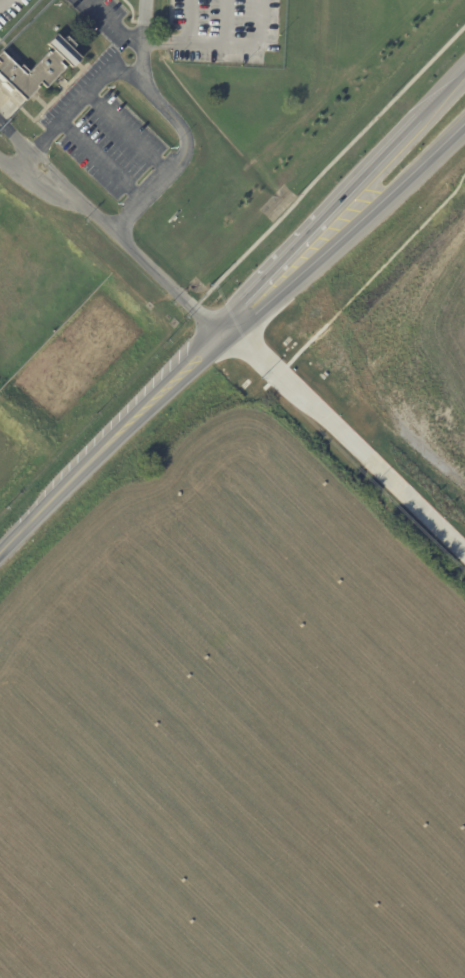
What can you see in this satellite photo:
road: (190, 20)
road: (114, 23)
road: (223, 42)
building: (39, 68)
road: (83, 96)
road: (443, 96)
road: (177, 123)
road: (130, 131)
road: (103, 159)
road: (386, 161)
road: (414, 170)
road: (56, 175)
road: (26, 178)
road: (282, 265)
road: (163, 278)
road: (345, 427)
road: (106, 439)

